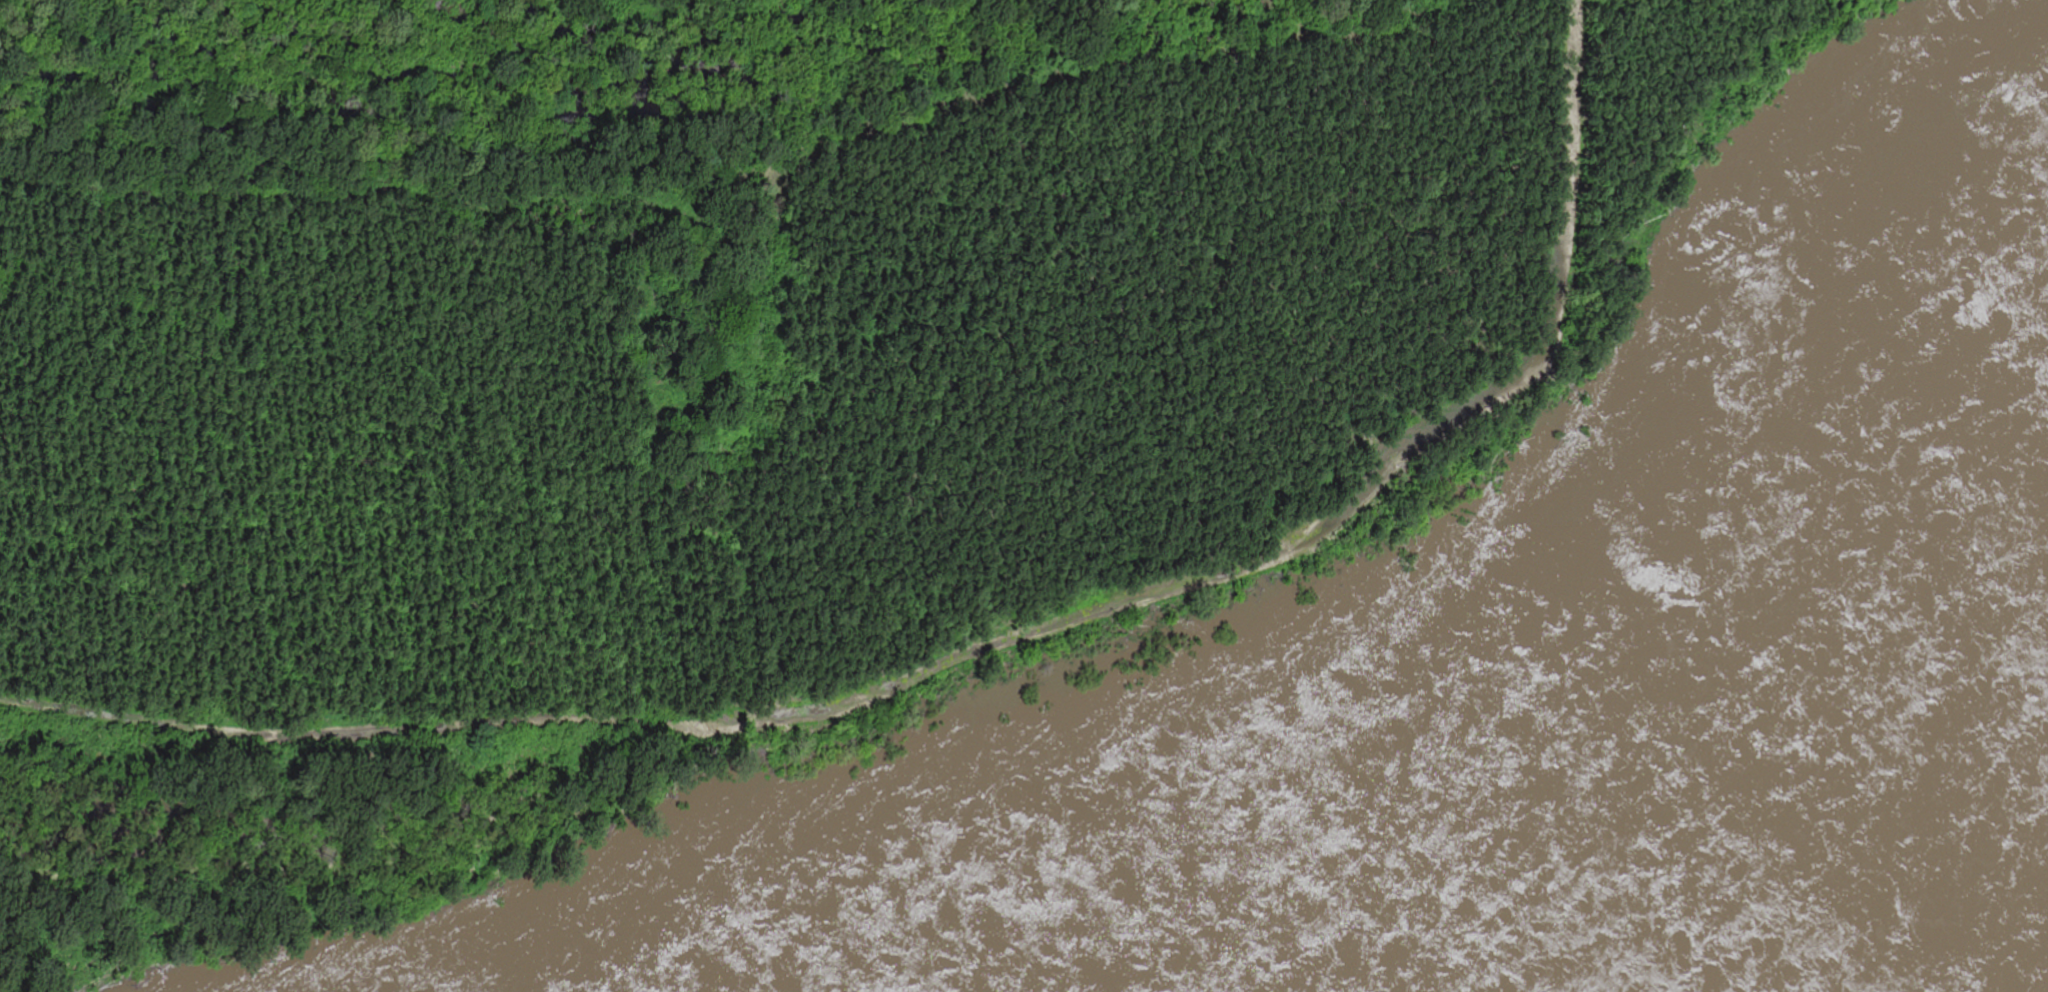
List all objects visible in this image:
road: (1569, 178)

